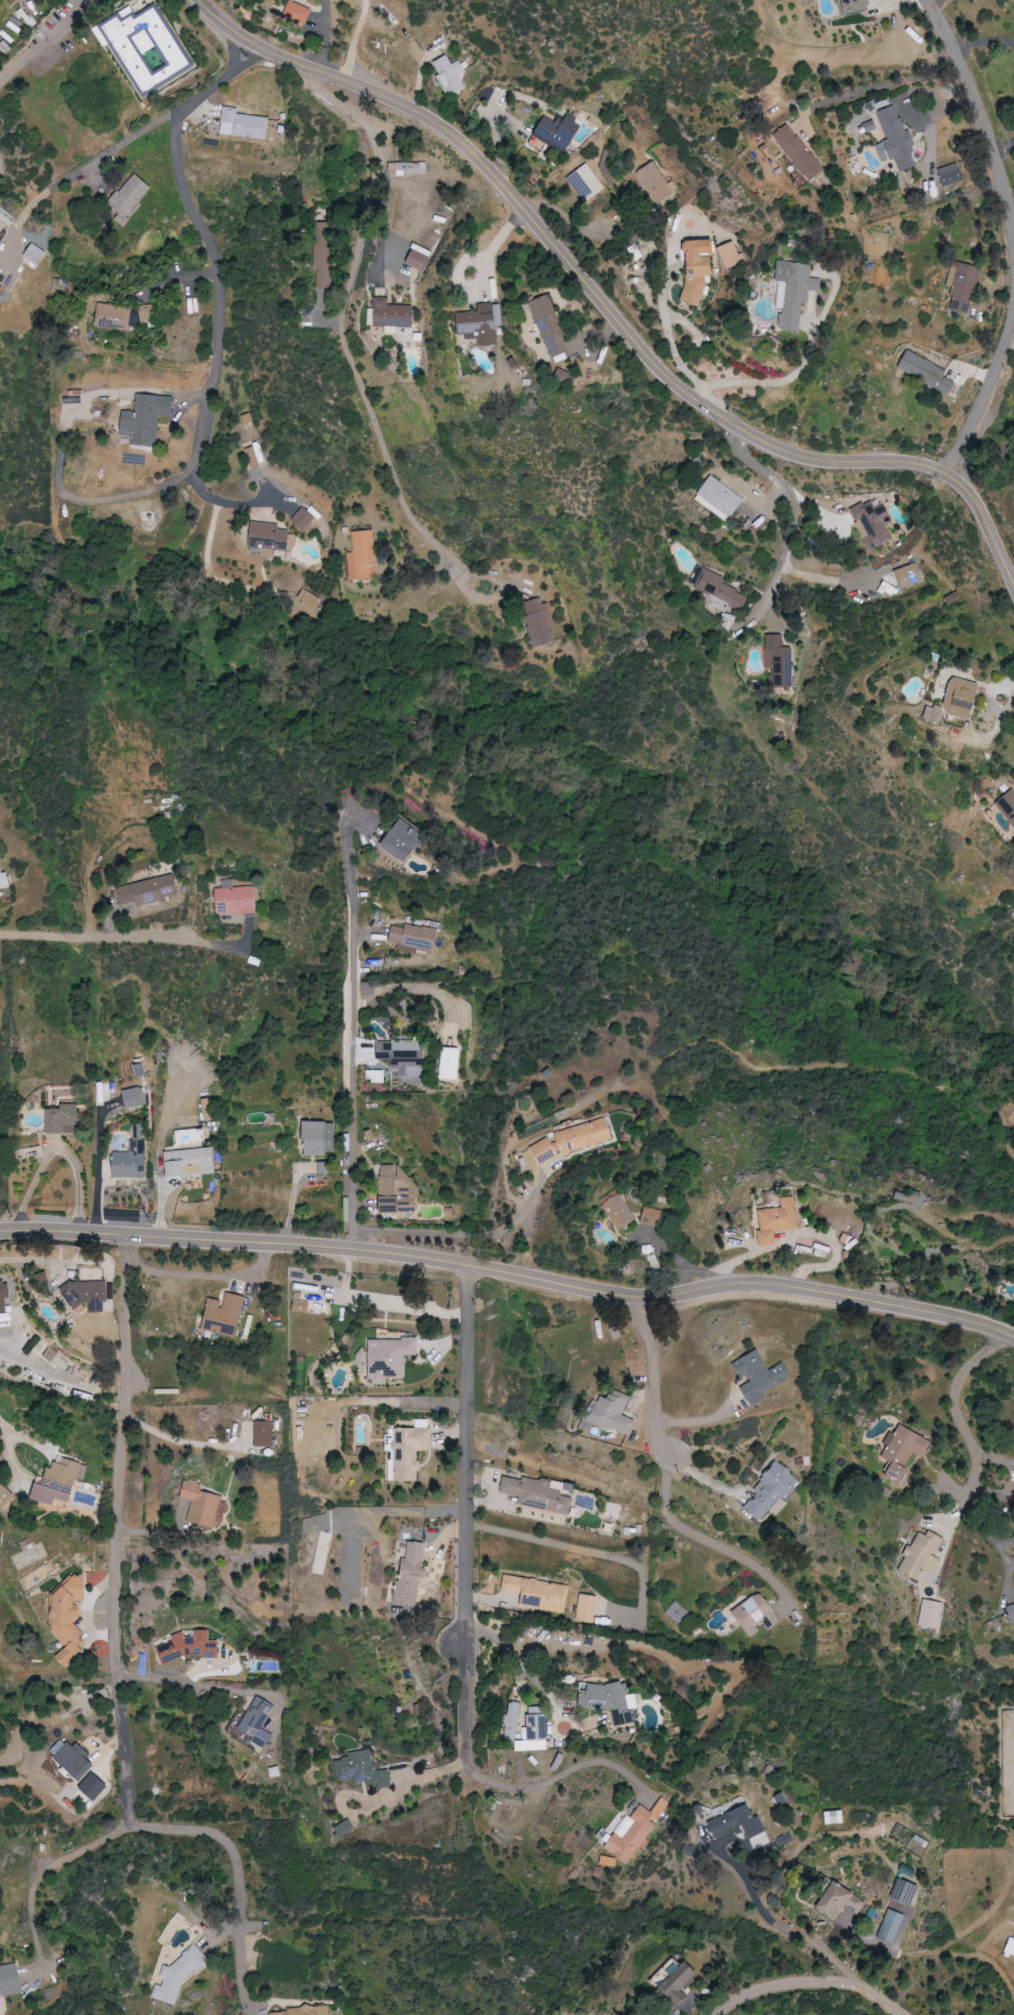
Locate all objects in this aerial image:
building: (853, 6)
building: (298, 12)
road: (983, 40)
road: (357, 41)
building: (146, 48)
road: (47, 52)
building: (449, 75)
road: (873, 88)
building: (244, 124)
road: (982, 125)
building: (558, 132)
building: (897, 140)
road: (1004, 149)
building: (798, 153)
building: (412, 168)
road: (88, 175)
building: (951, 175)
building: (587, 183)
building: (657, 183)
building: (130, 197)
road: (384, 219)
building: (0, 226)
road: (493, 248)
road: (210, 250)
building: (323, 254)
building: (35, 255)
building: (731, 255)
building: (698, 270)
building: (962, 282)
building: (1, 289)
road: (608, 309)
building: (146, 314)
building: (392, 314)
building: (113, 317)
road: (342, 319)
road: (668, 319)
building: (480, 323)
building: (551, 327)
building: (1013, 356)
building: (923, 372)
road: (797, 373)
road: (989, 381)
building: (146, 418)
building: (723, 497)
road: (789, 516)
building: (303, 518)
building: (871, 524)
building: (269, 537)
building: (362, 556)
building: (905, 576)
building: (719, 589)
building: (309, 600)
building: (726, 620)
building: (539, 623)
building: (777, 660)
road: (997, 700)
building: (952, 701)
building: (1007, 807)
building: (404, 840)
building: (4, 878)
building: (150, 890)
building: (237, 898)
building: (415, 938)
road: (102, 939)
building: (404, 1055)
road: (360, 1062)
building: (450, 1063)
building: (135, 1097)
building: (63, 1119)
building: (189, 1136)
building: (319, 1137)
building: (132, 1159)
building: (191, 1161)
road: (99, 1165)
building: (325, 1167)
road: (79, 1178)
road: (33, 1186)
building: (655, 1217)
building: (779, 1220)
road: (463, 1236)
road: (35, 1259)
building: (656, 1261)
road: (510, 1267)
road: (209, 1275)
building: (87, 1295)
building: (4, 1296)
building: (225, 1314)
building: (387, 1358)
road: (36, 1363)
road: (647, 1369)
building: (760, 1376)
building: (614, 1414)
road: (699, 1422)
road: (961, 1423)
building: (264, 1433)
road: (24, 1438)
road: (181, 1440)
building: (409, 1450)
building: (904, 1451)
road: (468, 1454)
road: (10, 1458)
building: (61, 1481)
building: (538, 1493)
building: (5, 1496)
building: (202, 1504)
road: (121, 1530)
road: (715, 1543)
road: (1000, 1545)
building: (924, 1554)
building: (412, 1575)
building: (539, 1593)
building: (589, 1608)
building: (1010, 1612)
building: (931, 1613)
building: (758, 1614)
building: (70, 1619)
building: (190, 1646)
road: (520, 1660)
road: (186, 1683)
building: (612, 1701)
building: (514, 1720)
building: (259, 1722)
building: (536, 1731)
power substation: (1008, 1764)
building: (80, 1768)
building: (363, 1769)
building: (276, 1771)
road: (500, 1786)
road: (379, 1803)
building: (831, 1817)
building: (738, 1823)
building: (344, 1828)
building: (635, 1831)
building: (609, 1861)
road: (46, 1870)
road: (239, 1875)
building: (834, 1900)
road: (784, 1923)
building: (889, 1926)
building: (1009, 1947)
building: (179, 1975)
building: (10, 1980)
building: (680, 1983)
road: (769, 1987)
road: (865, 1991)
building: (303, 2011)

